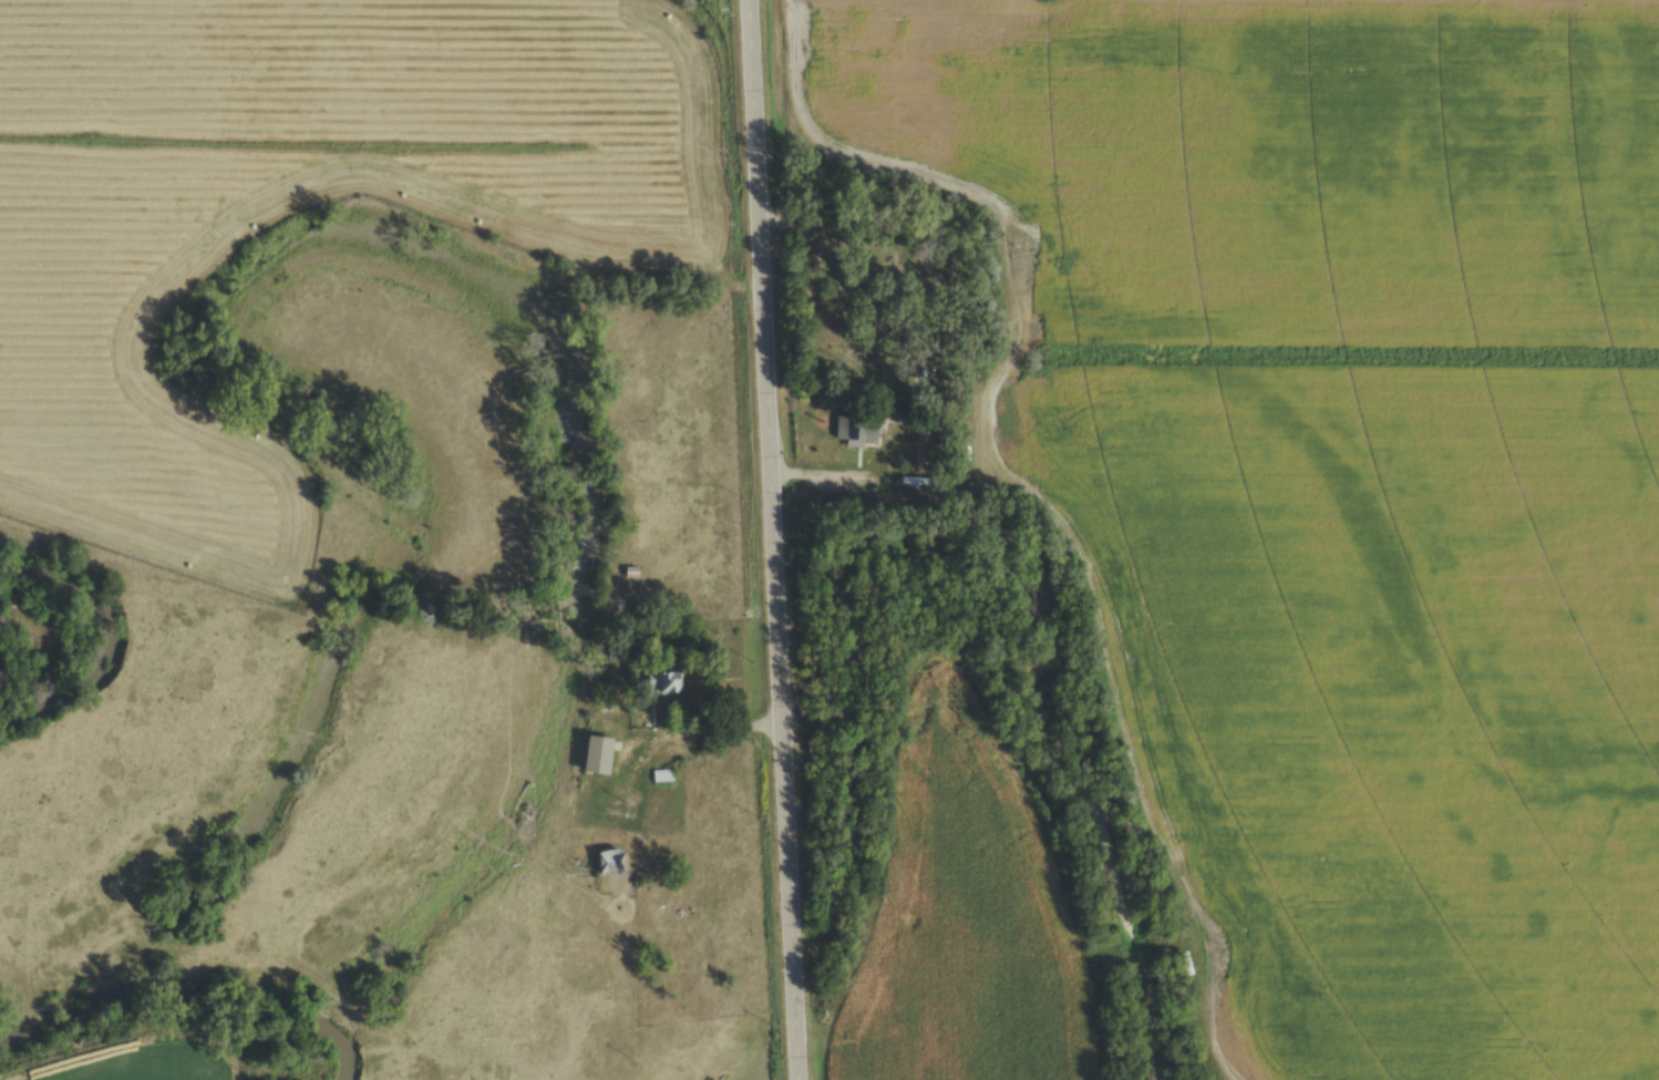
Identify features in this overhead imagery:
building: (824, 267)
building: (855, 430)
road: (772, 539)
building: (661, 682)
building: (597, 754)
building: (610, 862)

